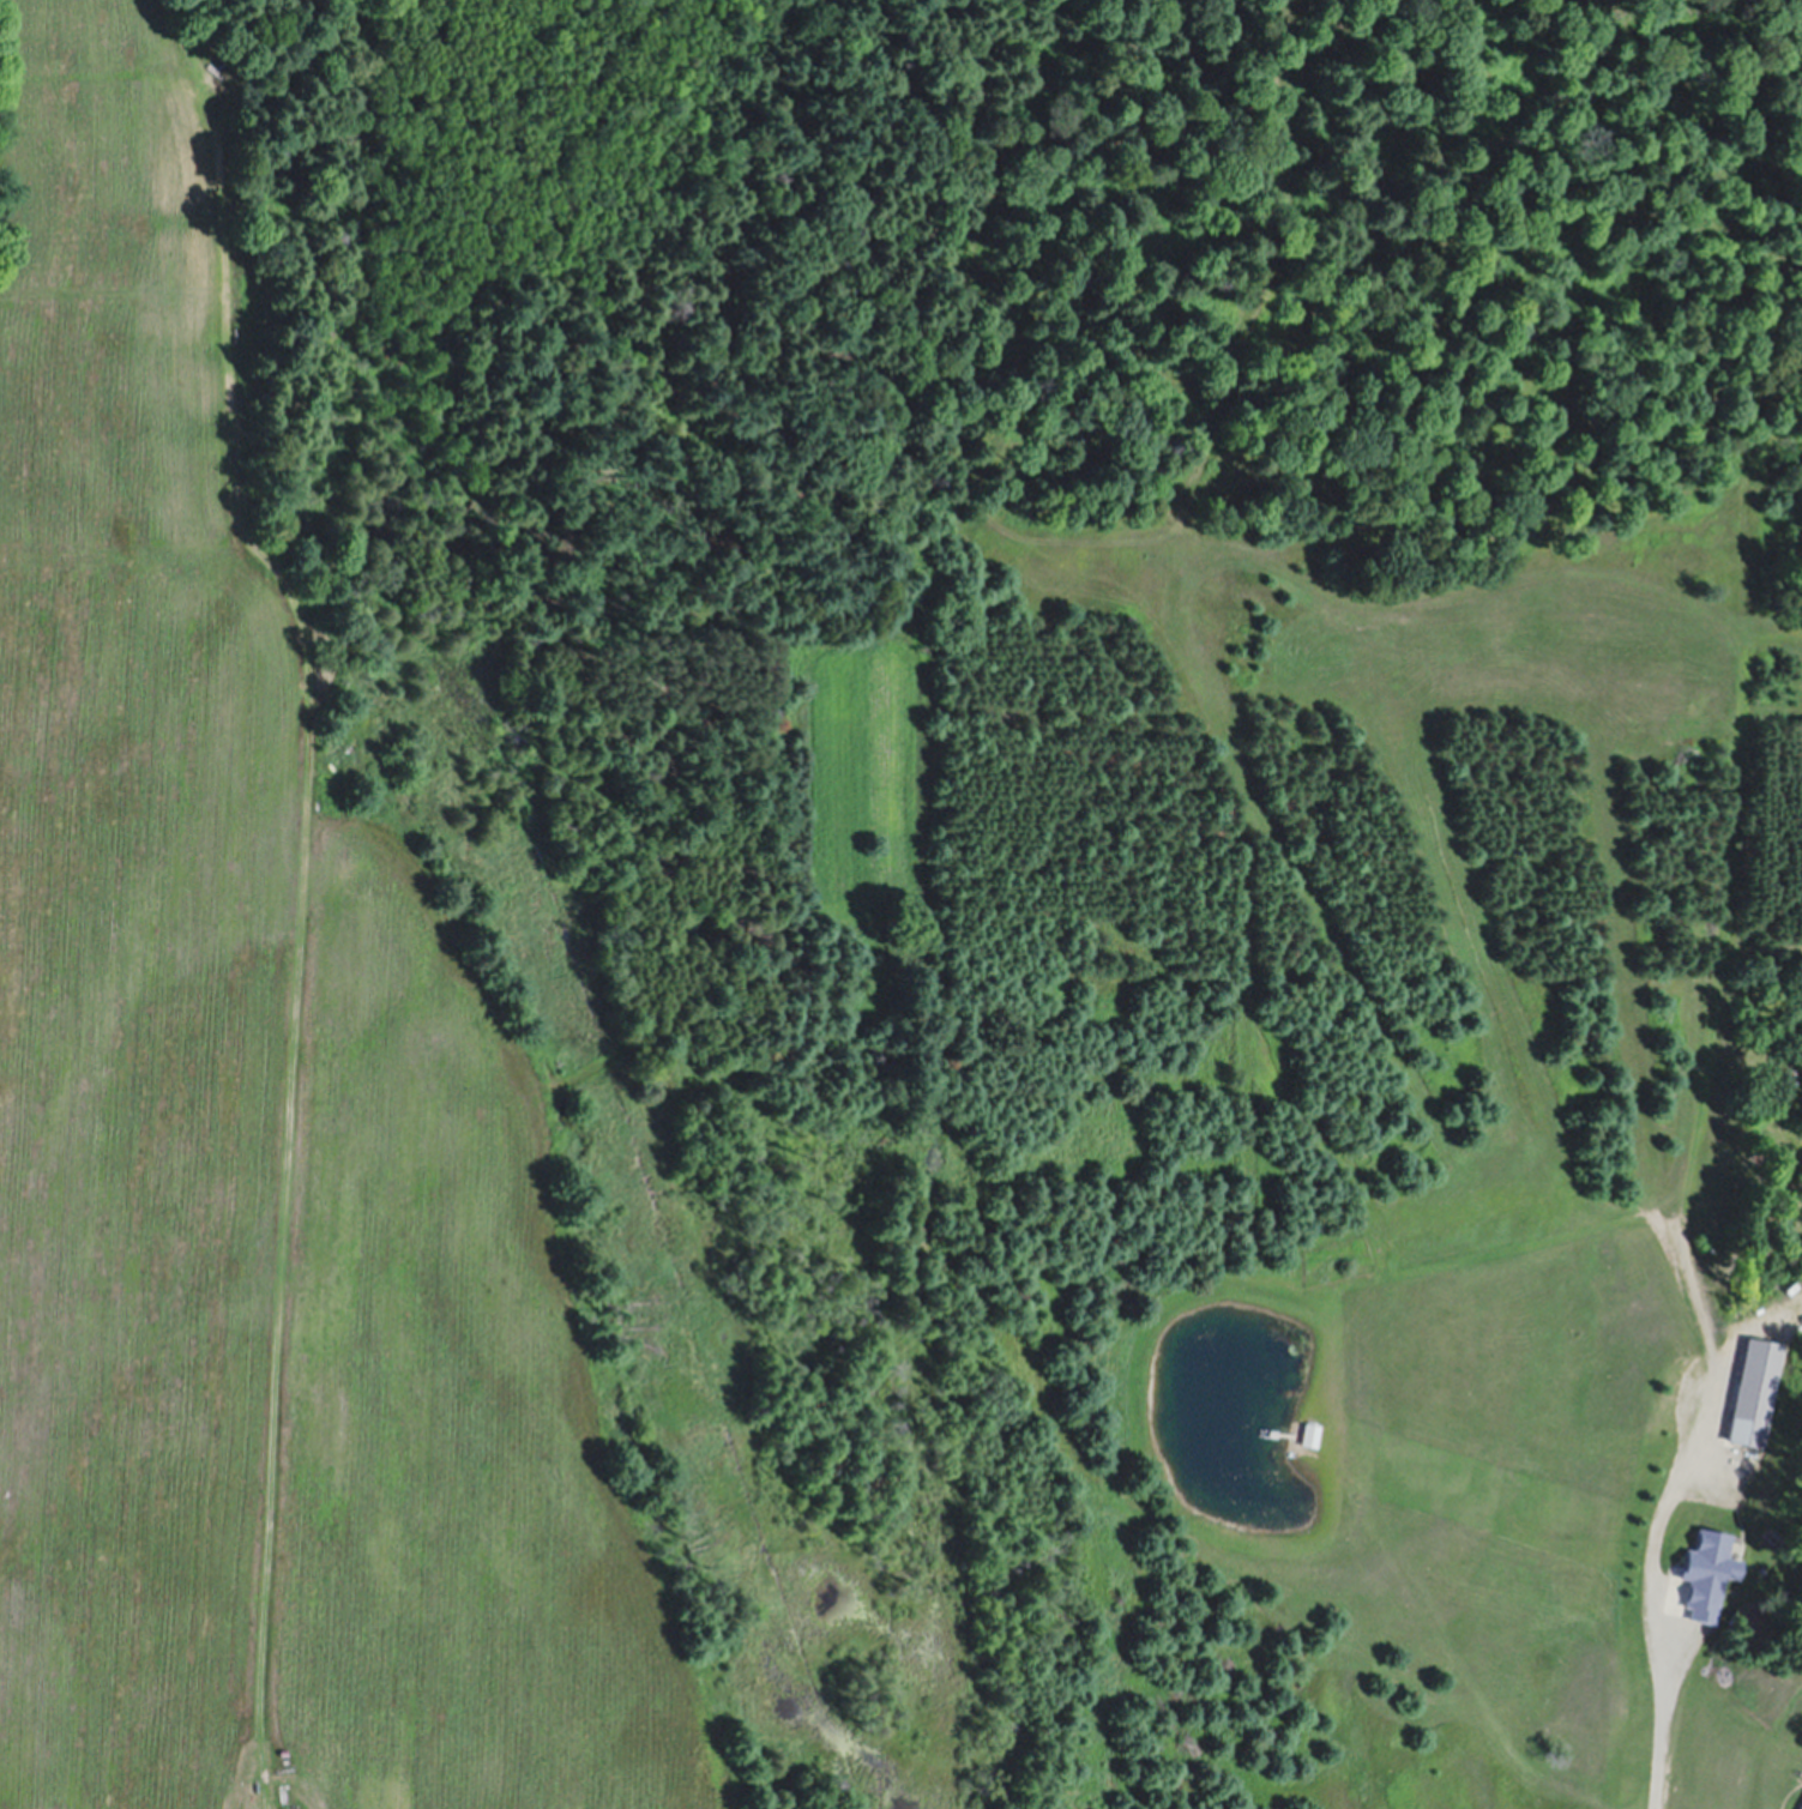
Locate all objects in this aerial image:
building: (1754, 1388)
building: (1314, 1435)
building: (1708, 1569)
road: (1662, 1736)
building: (1801, 1808)

